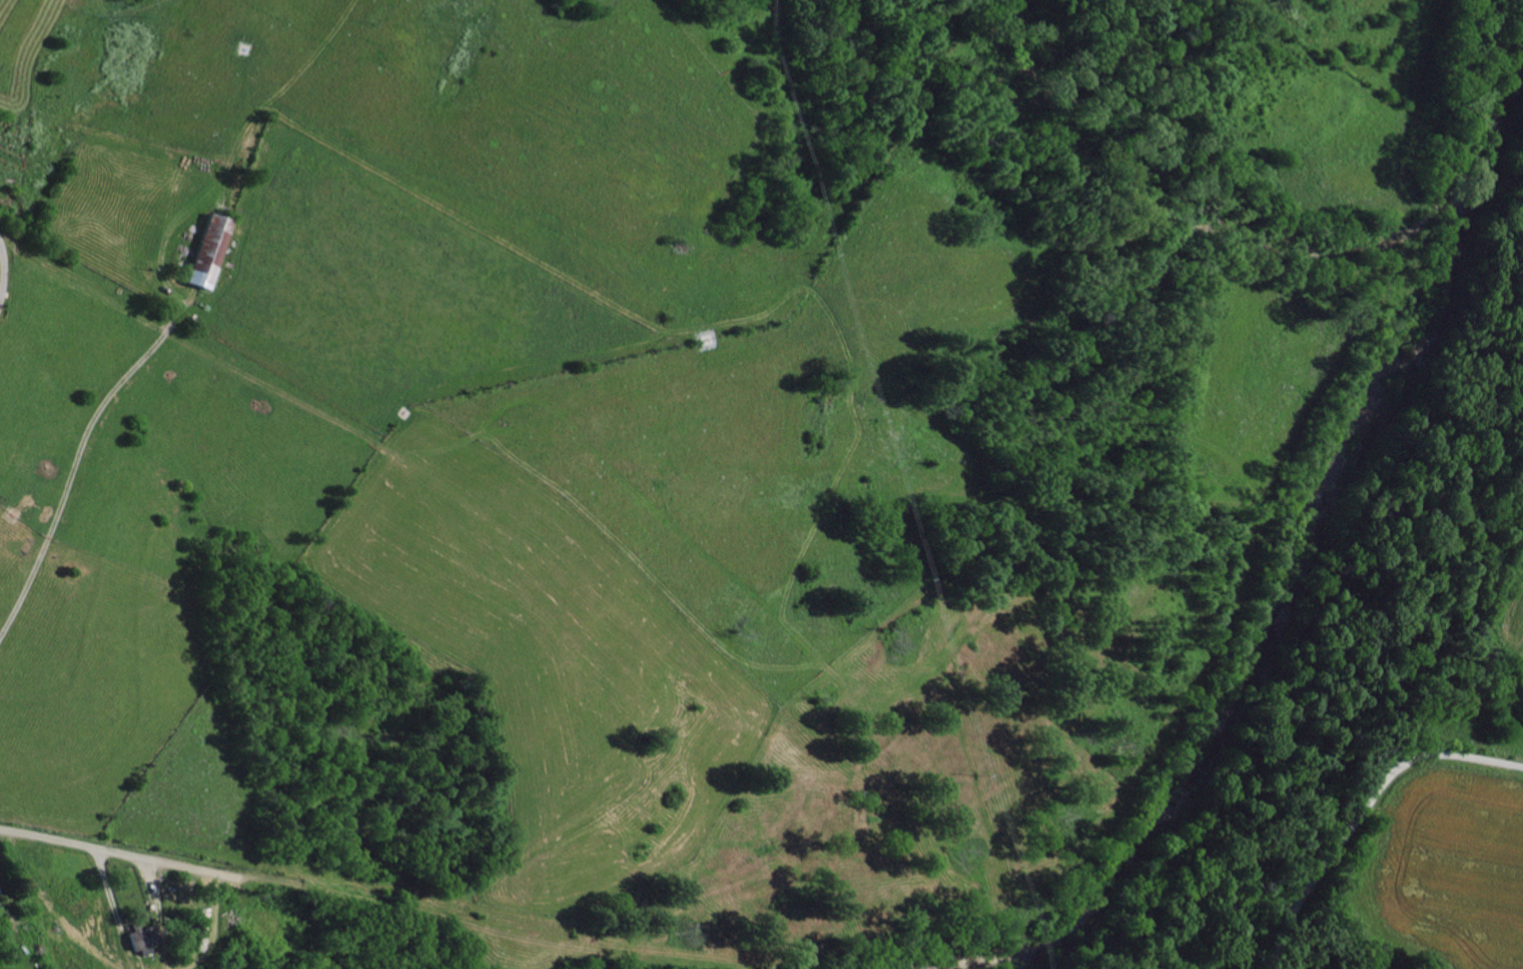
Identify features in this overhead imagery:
building: (206, 248)
road: (3, 271)
road: (1363, 811)
road: (147, 860)
road: (81, 893)
building: (140, 937)
road: (590, 945)

